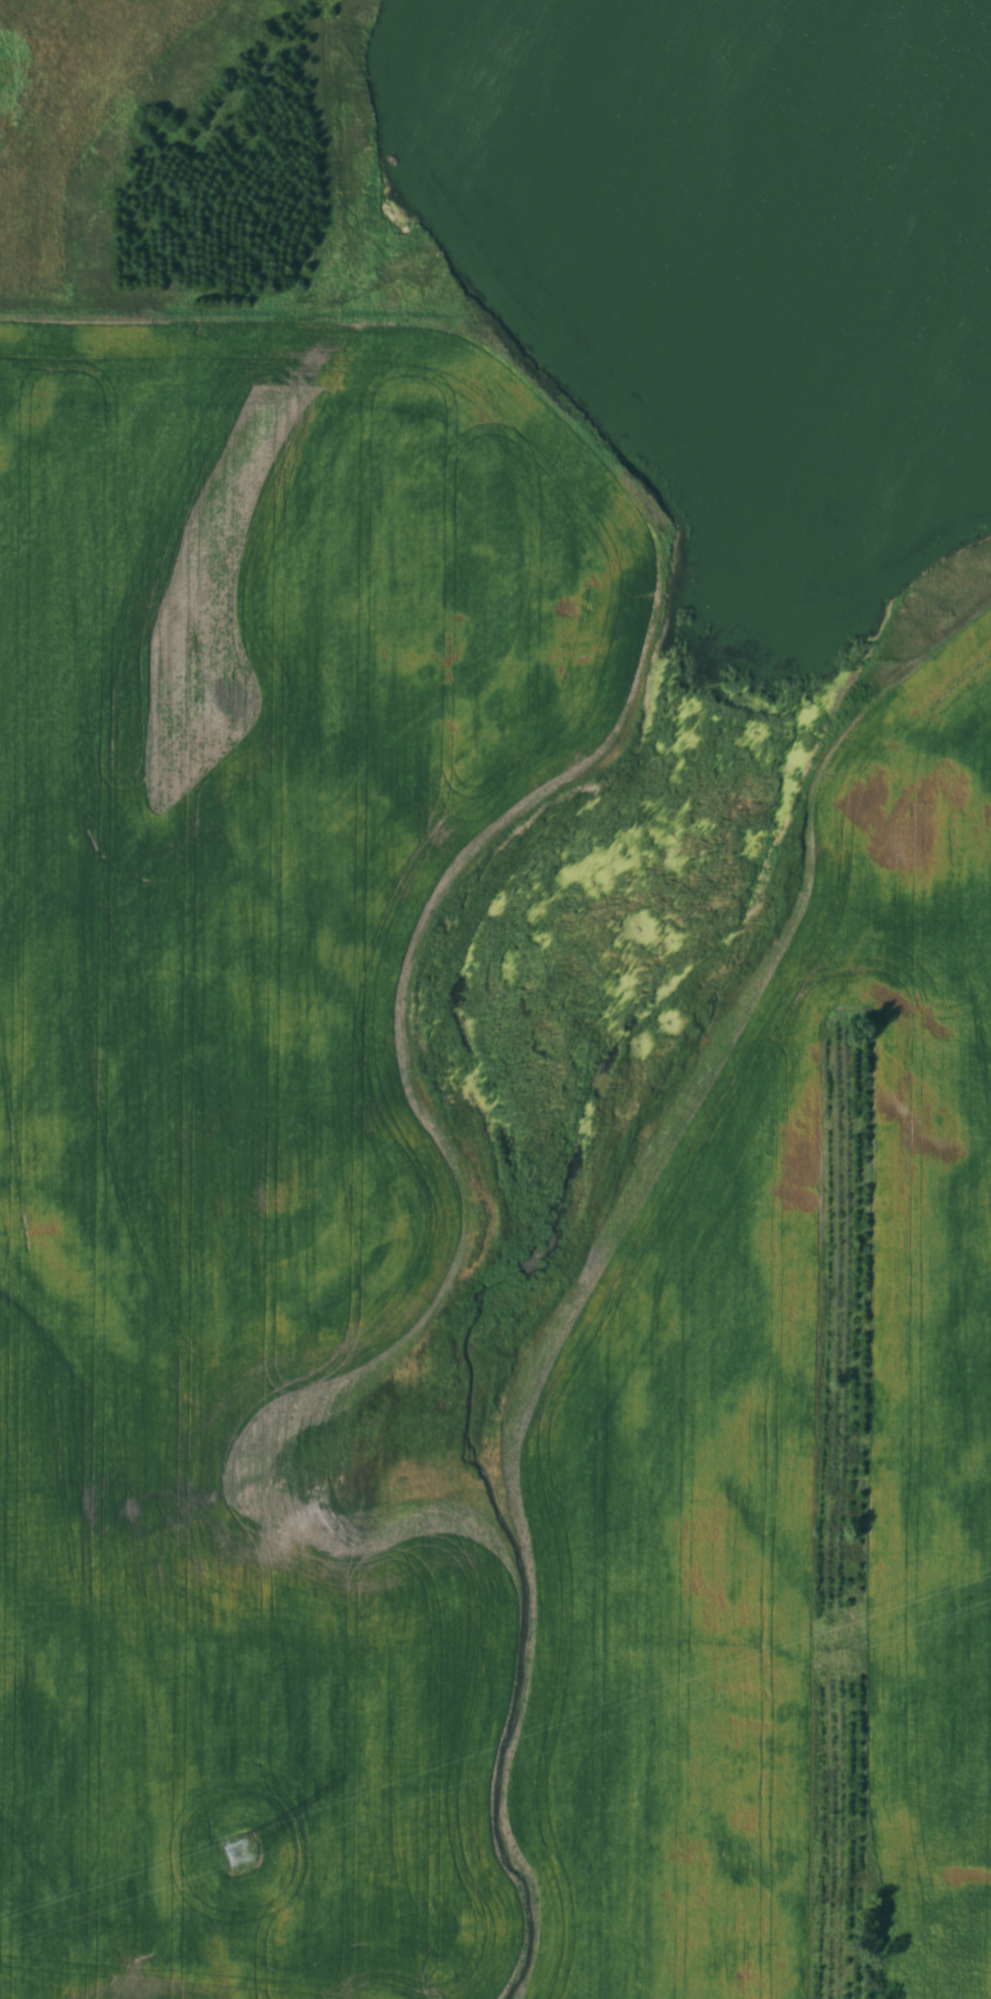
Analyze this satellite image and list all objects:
power tower: (239, 1849)

